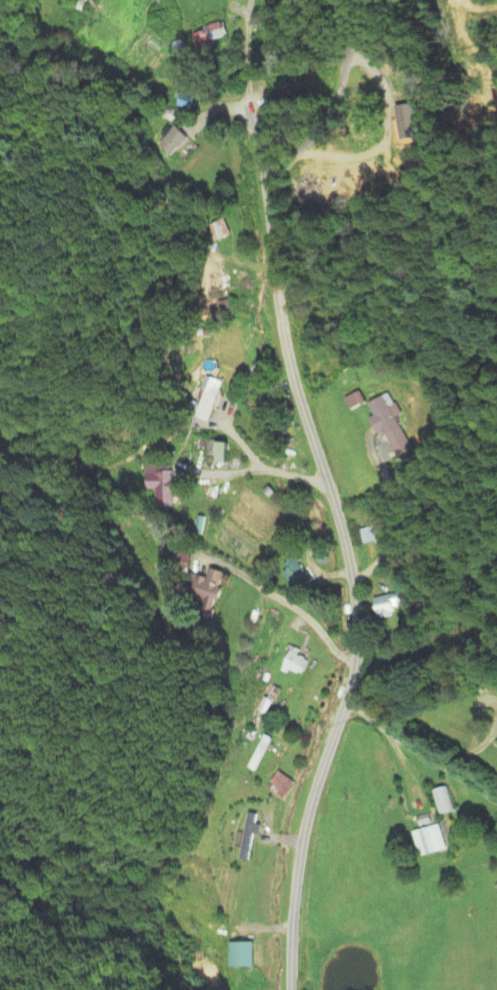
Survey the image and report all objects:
building: (210, 38)
road: (248, 51)
road: (332, 101)
building: (409, 122)
building: (171, 142)
building: (218, 230)
building: (207, 400)
building: (388, 424)
building: (225, 454)
building: (161, 485)
building: (369, 535)
road: (342, 546)
building: (295, 575)
building: (205, 592)
road: (282, 602)
building: (386, 606)
building: (296, 665)
road: (420, 754)
building: (282, 787)
building: (248, 837)
building: (427, 841)
building: (242, 955)

